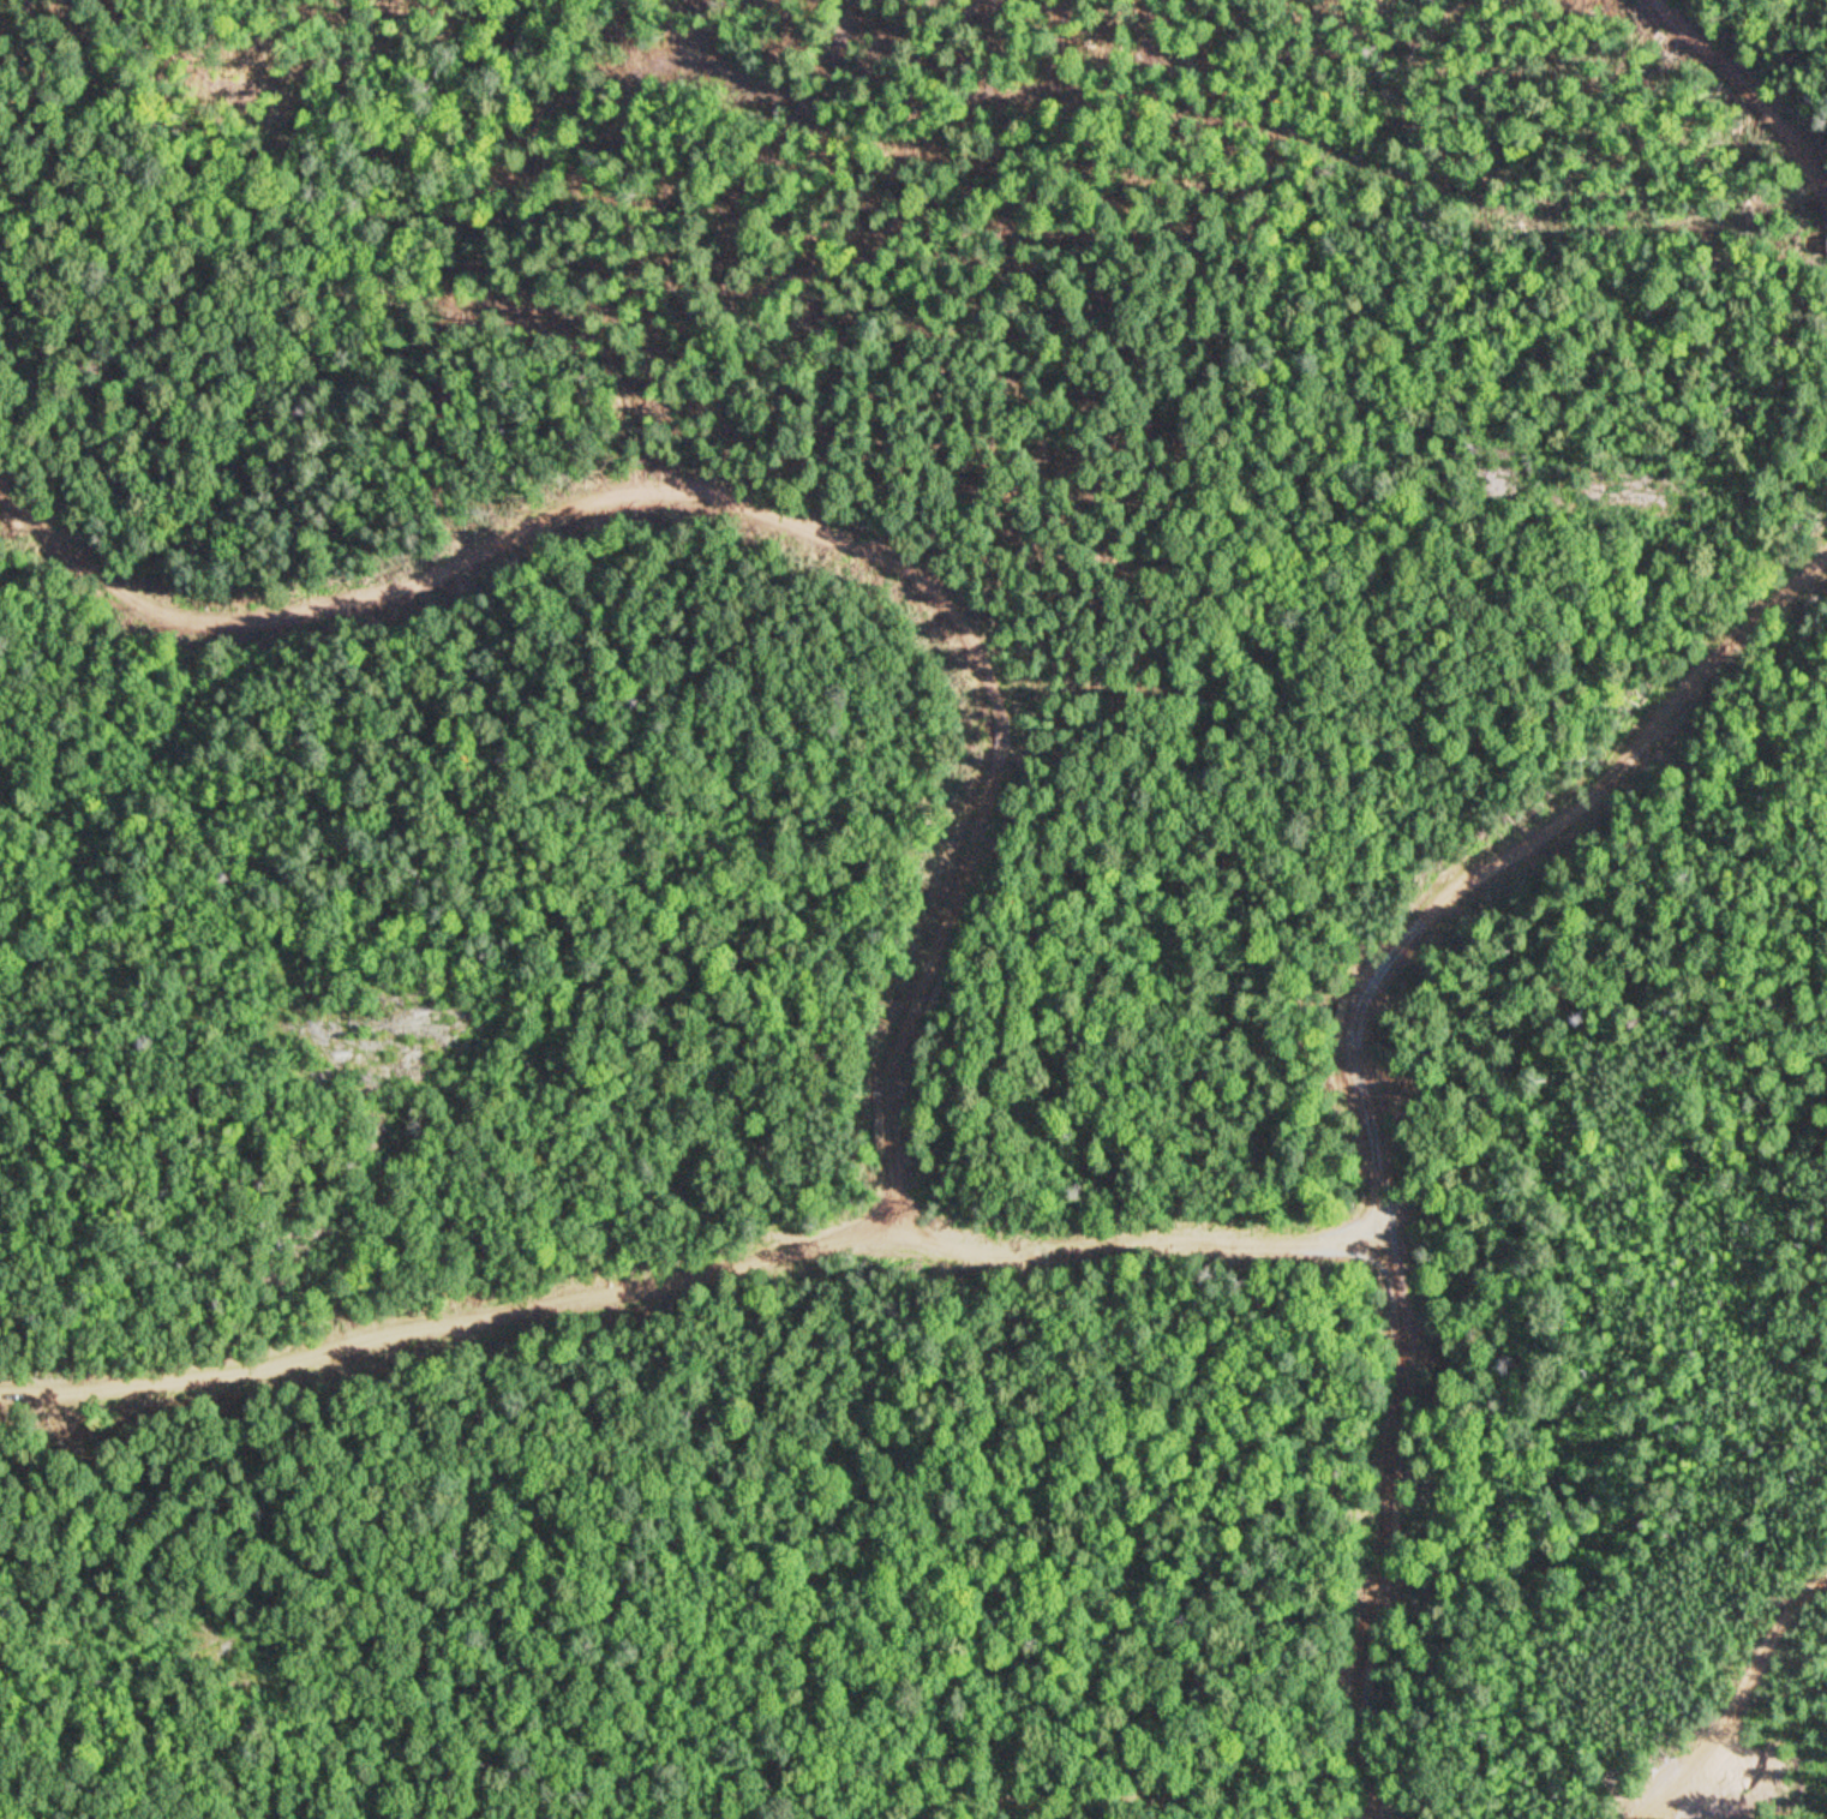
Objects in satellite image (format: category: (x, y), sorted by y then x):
road: (1700, 1650)

